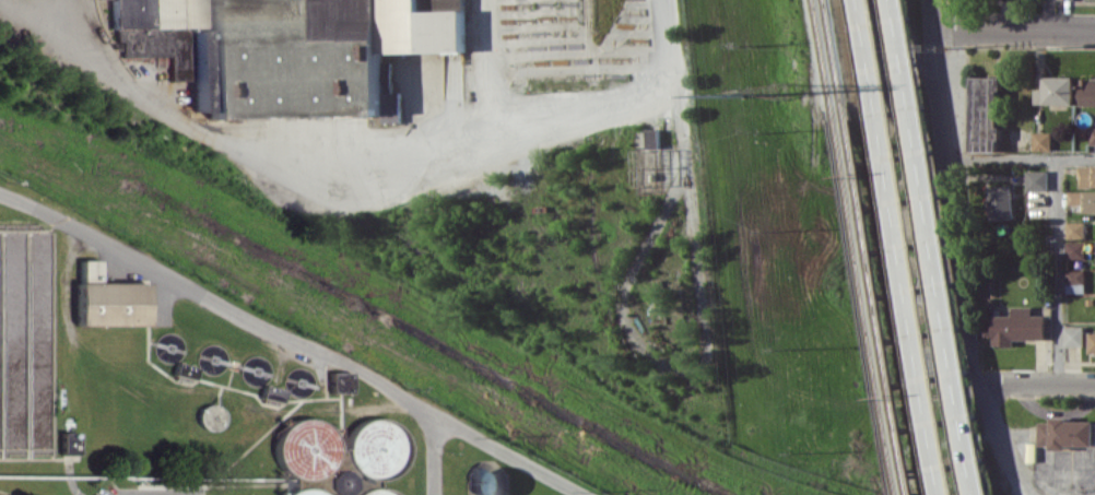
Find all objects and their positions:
road: (1046, 13)
road: (1017, 25)
building: (294, 42)
road: (490, 54)
railway: (827, 61)
railway: (837, 61)
road: (675, 86)
power tower: (784, 89)
building: (1050, 91)
building: (1086, 92)
power tower: (742, 95)
road: (564, 102)
building: (982, 114)
building: (1092, 135)
building: (1038, 141)
road: (267, 161)
road: (1020, 161)
building: (1085, 175)
building: (1034, 180)
road: (951, 191)
building: (1081, 199)
building: (998, 202)
building: (1073, 229)
road: (939, 247)
road: (904, 248)
building: (1073, 249)
road: (1052, 272)
building: (1073, 281)
road: (744, 287)
building: (108, 297)
railway: (871, 308)
railway: (881, 308)
building: (1017, 327)
building: (1072, 335)
road: (293, 342)
building: (1091, 342)
road: (668, 365)
building: (184, 370)
road: (1037, 382)
building: (340, 384)
wastewater plant: (207, 385)
road: (246, 393)
building: (272, 394)
building: (213, 414)
building: (1067, 433)
road: (1009, 446)
building: (305, 447)
building: (374, 447)
road: (431, 453)
road: (155, 478)
road: (250, 479)
building: (488, 480)
building: (337, 482)
building: (304, 491)
building: (374, 491)
road: (5, 493)
road: (160, 493)
road: (1034, 493)

